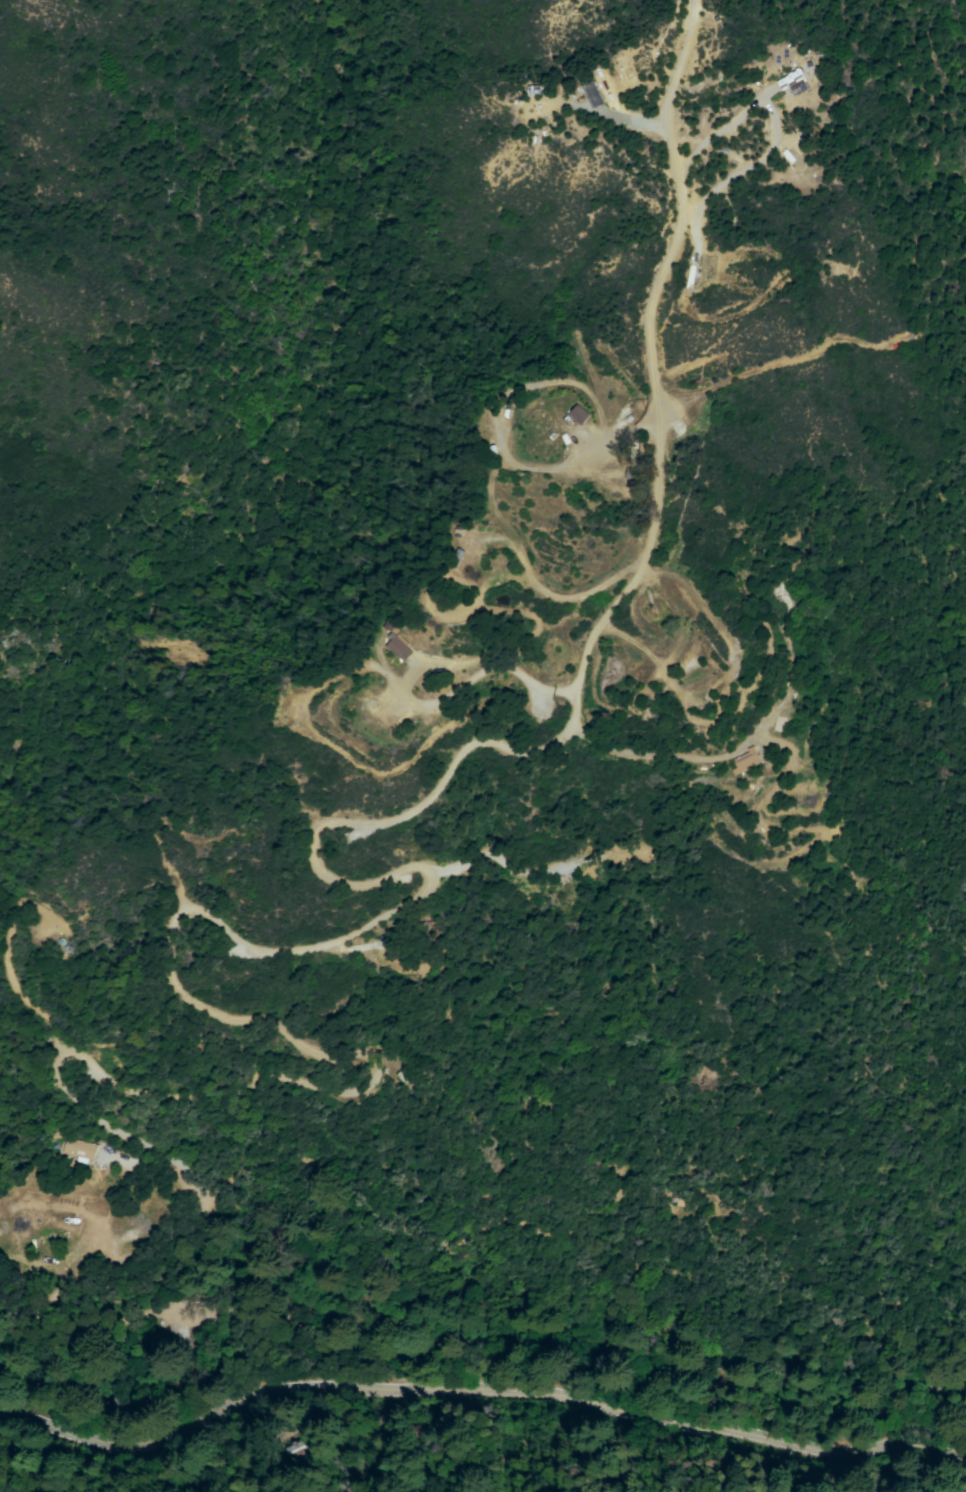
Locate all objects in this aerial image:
building: (604, 83)
building: (796, 85)
building: (591, 93)
road: (661, 106)
road: (631, 119)
road: (771, 119)
road: (694, 246)
road: (724, 317)
road: (787, 360)
road: (544, 382)
building: (577, 413)
road: (578, 462)
building: (629, 472)
road: (494, 509)
road: (552, 596)
building: (388, 620)
road: (773, 620)
building: (397, 646)
road: (421, 663)
road: (658, 670)
road: (769, 711)
road: (341, 752)
road: (665, 756)
building: (745, 760)
road: (793, 762)
road: (506, 866)
water tower: (62, 942)
road: (317, 947)
water tower: (69, 949)
road: (1, 961)
building: (81, 1152)
road: (139, 1162)
road: (478, 1384)

